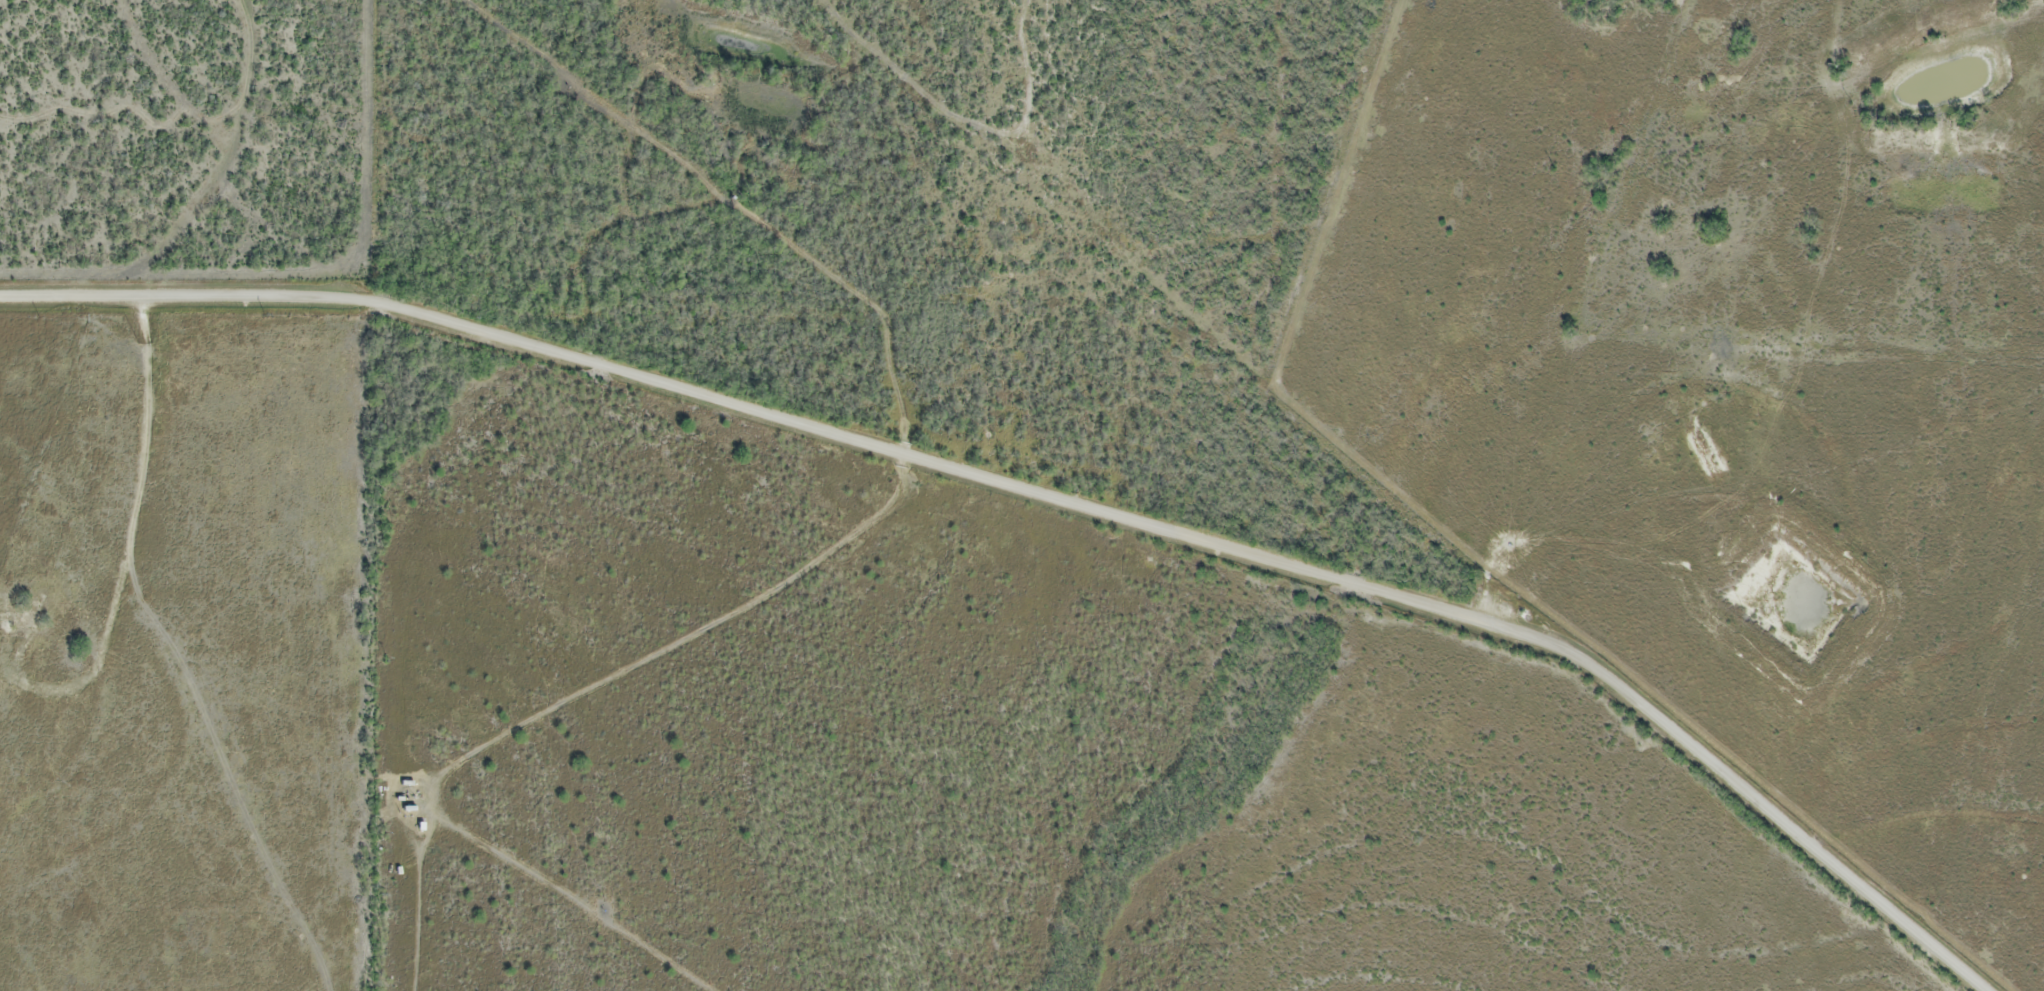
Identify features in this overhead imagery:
road: (948, 218)
road: (1049, 496)

